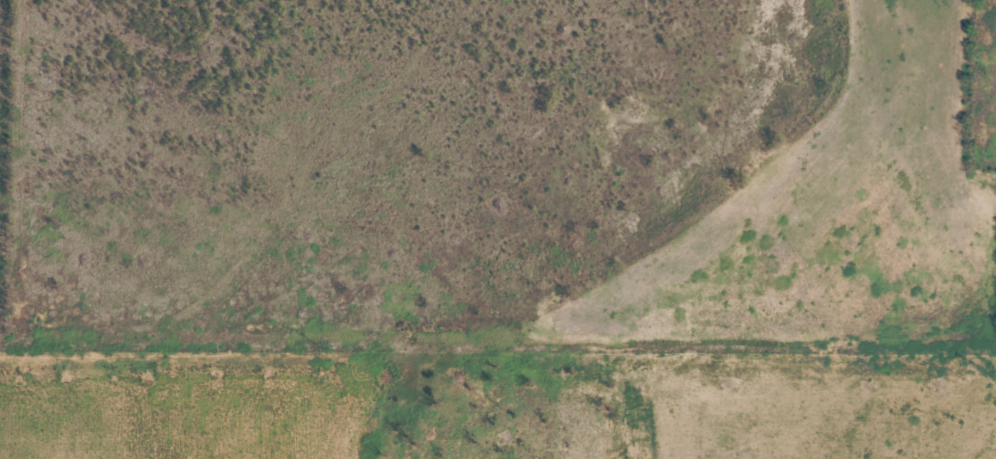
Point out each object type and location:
road: (940, 47)
road: (321, 156)
road: (503, 333)

